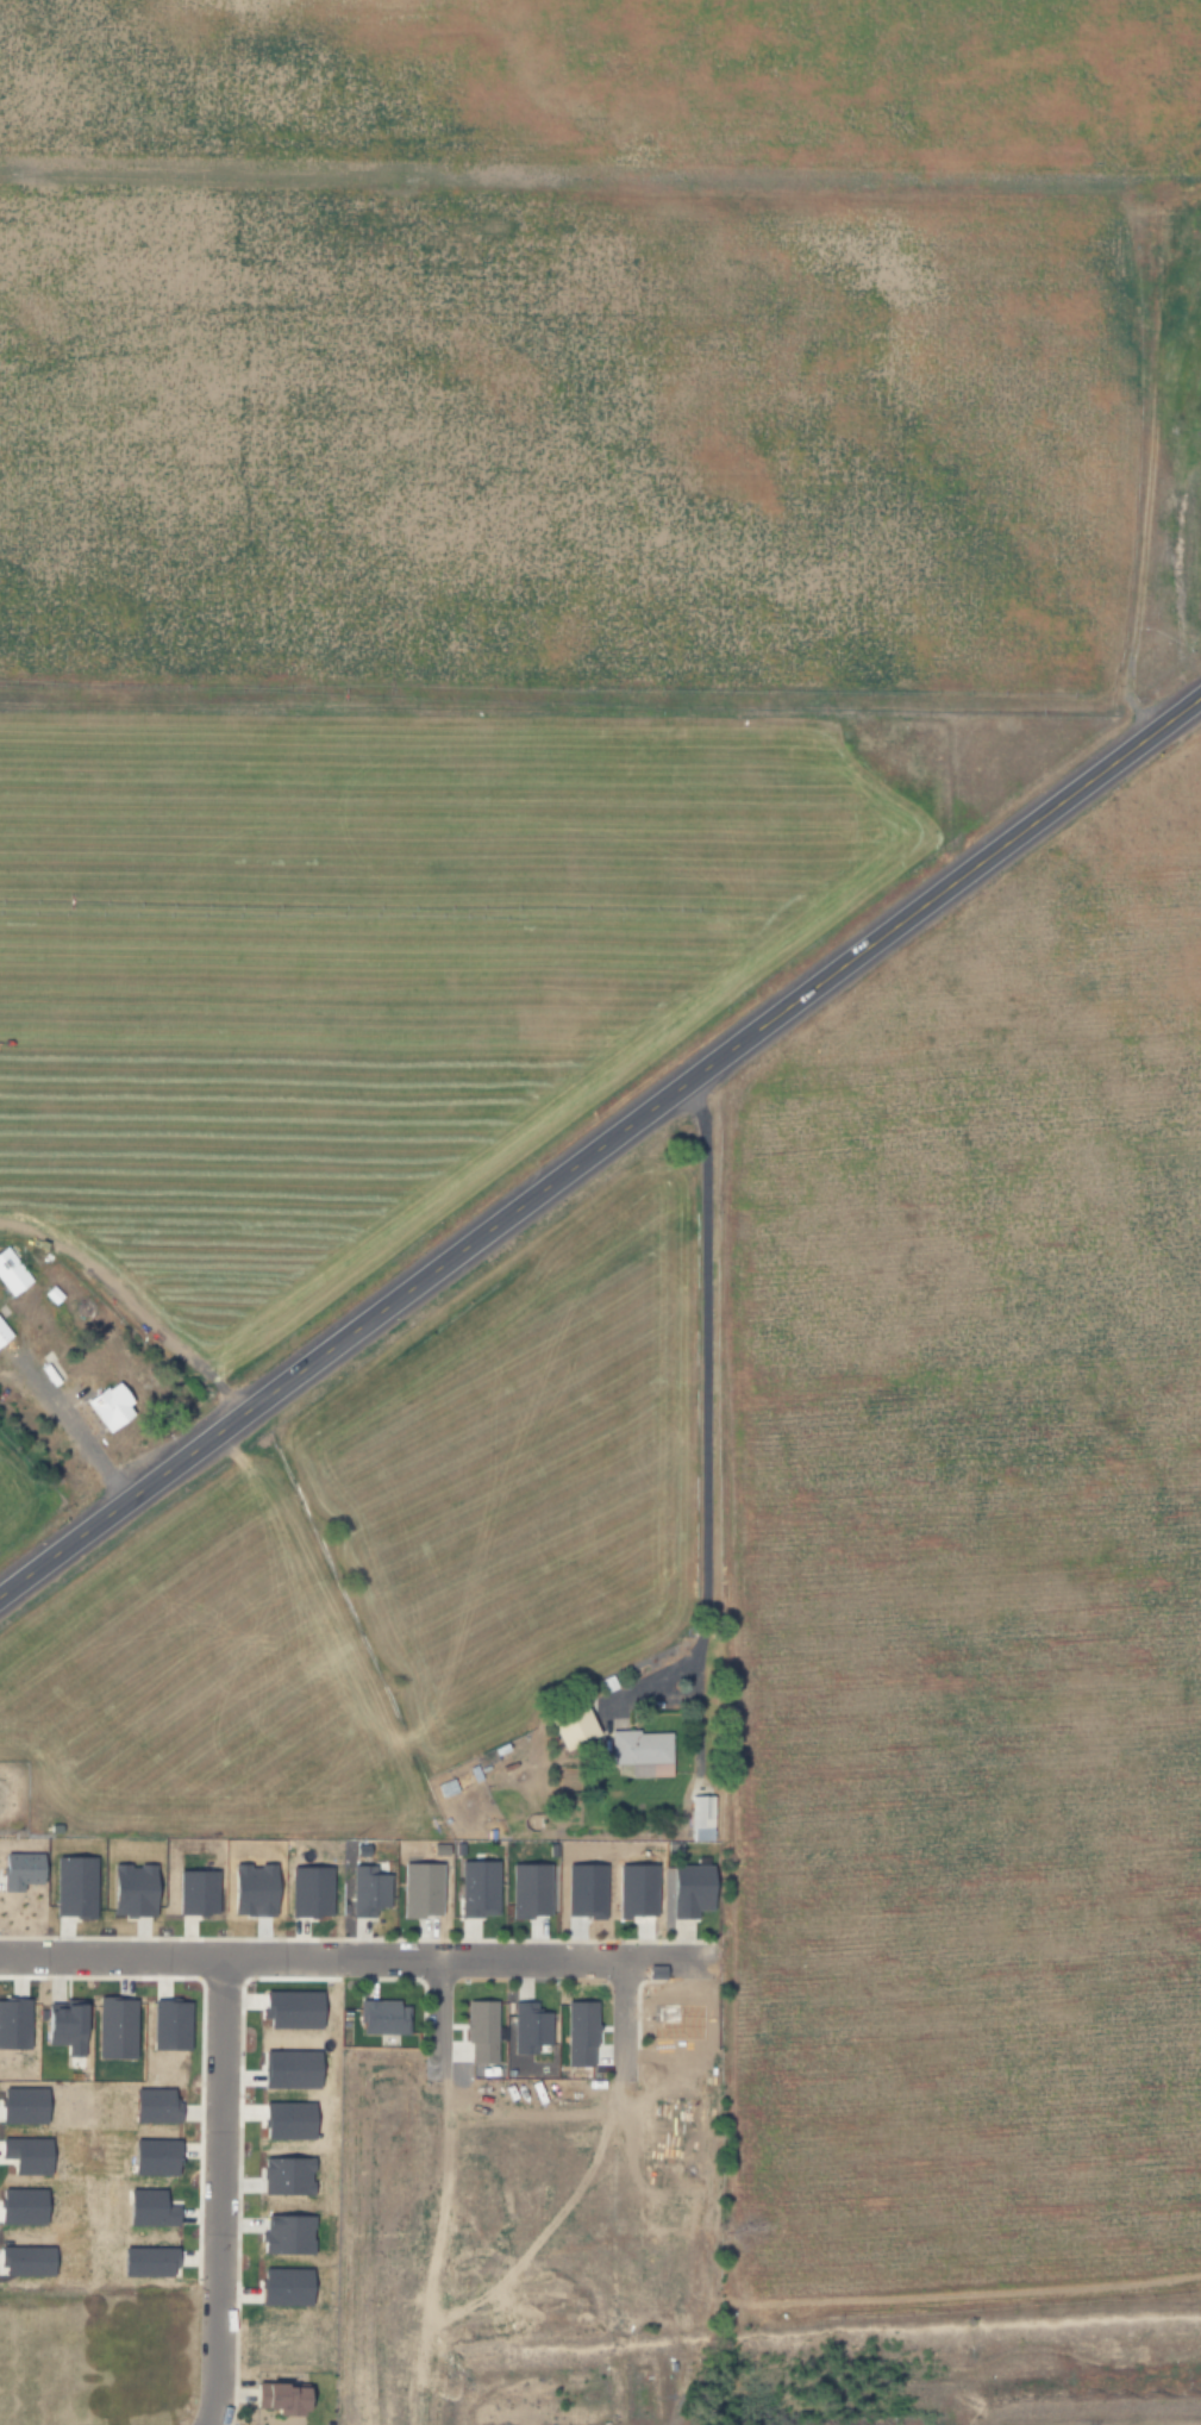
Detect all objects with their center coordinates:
crop: (525, 556)
road: (601, 1146)
building: (10, 1271)
building: (2, 1333)
building: (106, 1405)
road: (708, 1412)
crop: (27, 1487)
building: (567, 1724)
building: (634, 1749)
building: (698, 1817)
building: (15, 1869)
building: (71, 1886)
building: (474, 1887)
building: (417, 1888)
building: (525, 1888)
building: (126, 1889)
building: (246, 1889)
building: (363, 1889)
building: (581, 1889)
building: (632, 1889)
building: (684, 1889)
building: (192, 1890)
building: (306, 1890)
road: (354, 1958)
building: (308, 2010)
building: (381, 2015)
road: (439, 2015)
road: (621, 2017)
building: (12, 2021)
building: (167, 2025)
building: (58, 2026)
building: (112, 2027)
building: (308, 2069)
building: (19, 2105)
building: (149, 2105)
building: (1091, 2131)
building: (282, 2132)
building: (23, 2155)
building: (149, 2156)
building: (281, 2175)
road: (219, 2190)
building: (18, 2205)
building: (143, 2207)
building: (282, 2233)
building: (23, 2260)
building: (142, 2261)
building: (279, 2398)

